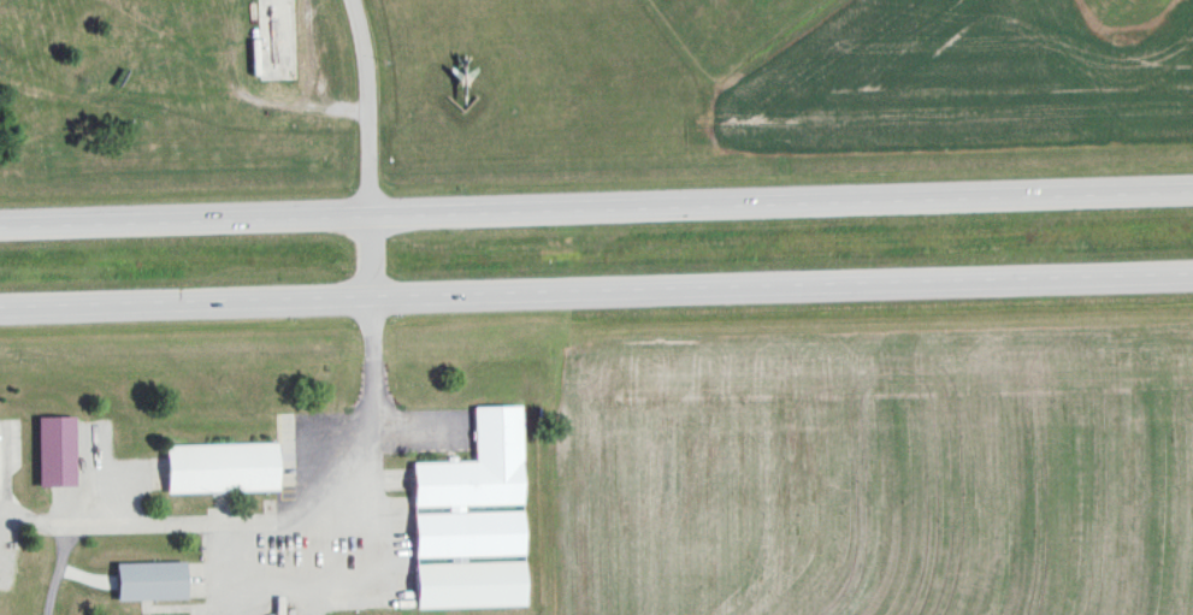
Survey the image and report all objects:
airport: (1128, 19)
airport: (382, 64)
road: (371, 149)
road: (596, 207)
road: (596, 294)
building: (52, 450)
building: (217, 467)
building: (468, 519)
building: (146, 579)

